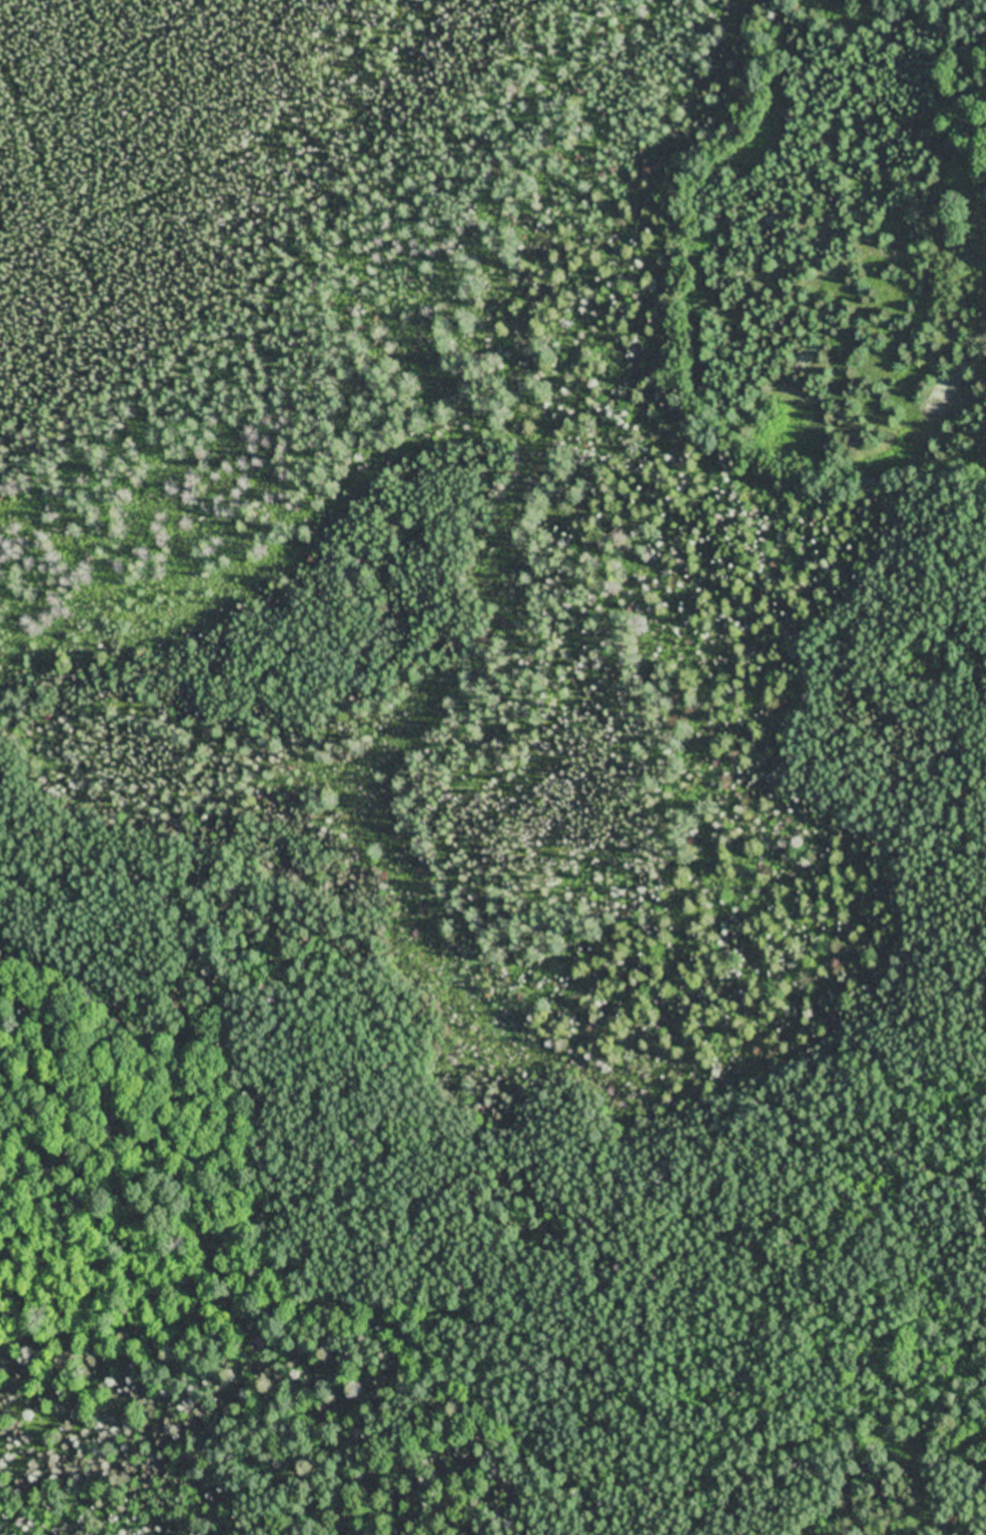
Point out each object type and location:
road: (949, 1505)

